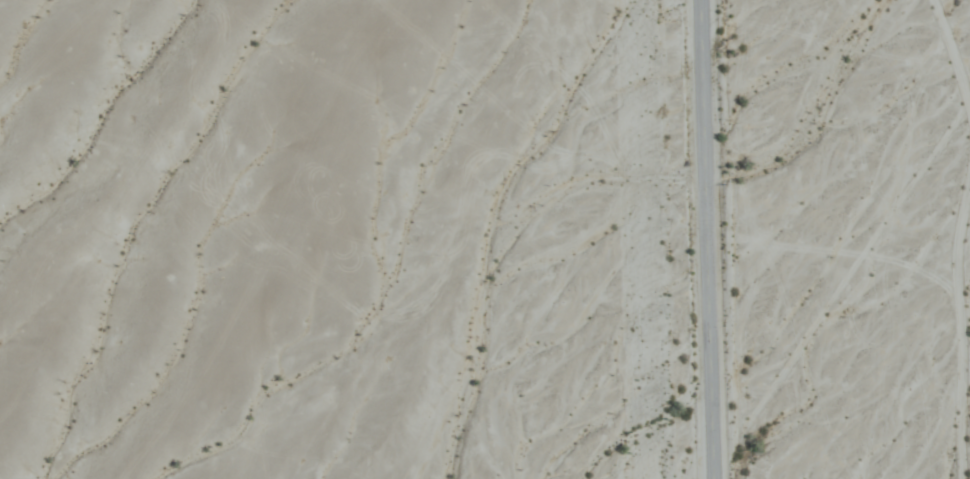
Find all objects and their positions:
road: (952, 51)
road: (707, 239)
road: (962, 330)

